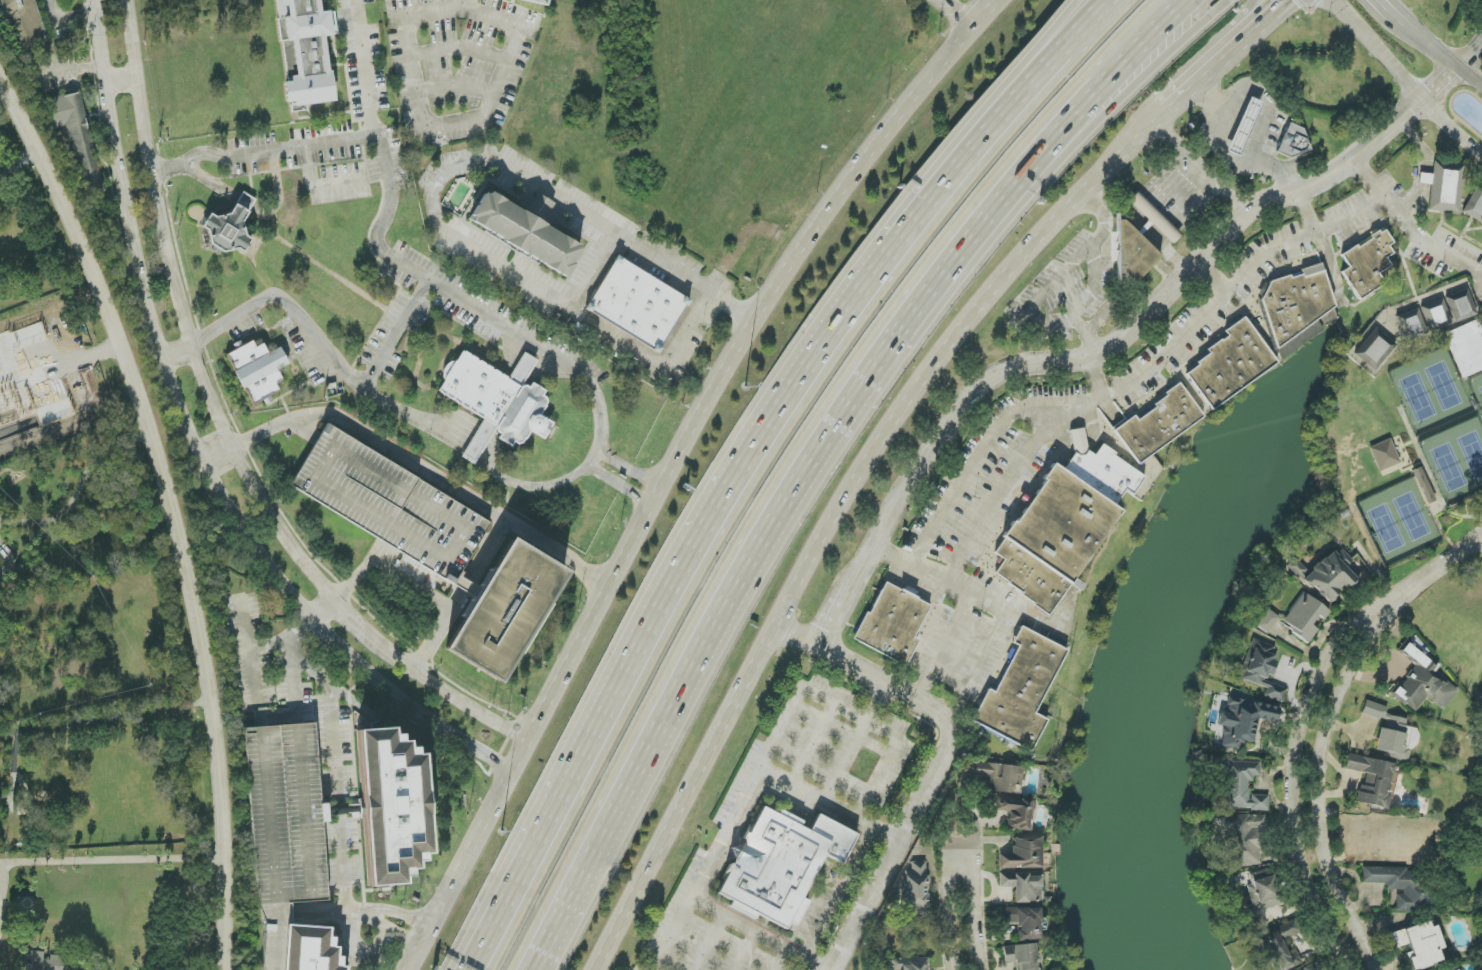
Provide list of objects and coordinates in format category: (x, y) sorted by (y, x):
building: (536, 1)
road: (1335, 2)
road: (465, 5)
road: (1383, 6)
road: (463, 11)
road: (1212, 11)
road: (961, 12)
road: (1253, 21)
road: (1268, 21)
building: (24, 23)
road: (63, 25)
road: (1436, 49)
building: (306, 50)
road: (459, 50)
road: (1471, 56)
road: (1034, 59)
road: (1041, 59)
road: (1121, 63)
road: (364, 70)
road: (122, 76)
road: (1133, 76)
road: (69, 78)
road: (1207, 79)
road: (1405, 84)
road: (1441, 86)
road: (456, 88)
road: (445, 125)
building: (1244, 126)
gas station: (1244, 126)
road: (1262, 129)
road: (1388, 131)
road: (1147, 135)
road: (1212, 135)
building: (1293, 142)
building: (75, 144)
road: (383, 148)
road: (204, 155)
road: (19, 165)
road: (168, 169)
road: (463, 169)
road: (1199, 169)
road: (1424, 169)
building: (1425, 179)
building: (1445, 186)
road: (317, 187)
building: (1474, 206)
road: (252, 211)
road: (1304, 214)
road: (1149, 218)
building: (231, 226)
road: (1408, 228)
building: (525, 234)
building: (1132, 255)
building: (1367, 264)
road: (596, 275)
road: (1211, 275)
road: (1060, 280)
road: (1094, 286)
building: (1296, 301)
road: (1215, 303)
building: (637, 304)
building: (1461, 305)
road: (288, 306)
building: (1435, 315)
road: (693, 323)
building: (1410, 324)
road: (1085, 335)
road: (396, 337)
building: (1467, 348)
building: (1373, 350)
road: (549, 352)
road: (178, 354)
road: (1044, 360)
building: (1230, 363)
building: (258, 371)
road: (1095, 375)
building: (497, 402)
building: (1158, 424)
road: (227, 434)
road: (1079, 437)
road: (375, 440)
road: (197, 447)
road: (749, 449)
road: (478, 453)
building: (1384, 455)
road: (677, 467)
road: (630, 471)
road: (972, 472)
building: (1424, 484)
road: (621, 487)
road: (79, 490)
road: (1000, 498)
building: (391, 505)
road: (171, 512)
building: (1063, 524)
road: (531, 534)
road: (780, 536)
road: (831, 539)
road: (1445, 565)
road: (388, 570)
building: (1327, 574)
road: (467, 587)
road: (992, 607)
building: (505, 610)
road: (328, 617)
building: (1304, 617)
building: (1267, 621)
building: (892, 623)
road: (1047, 631)
road: (437, 633)
road: (942, 648)
park: (1460, 650)
road: (250, 666)
building: (1261, 669)
building: (1422, 682)
building: (1021, 691)
road: (82, 721)
building: (1243, 721)
building: (1389, 732)
road: (775, 741)
road: (853, 742)
road: (812, 745)
road: (941, 763)
road: (1296, 765)
road: (1321, 776)
building: (998, 777)
building: (1373, 780)
building: (1243, 787)
road: (340, 796)
road: (831, 805)
building: (392, 806)
building: (1016, 812)
building: (286, 814)
building: (1407, 837)
building: (1243, 840)
building: (1023, 854)
road: (109, 860)
building: (781, 864)
building: (1399, 884)
road: (503, 887)
road: (511, 887)
building: (1023, 887)
building: (915, 890)
road: (839, 893)
building: (1261, 900)
road: (977, 902)
road: (949, 915)
building: (1023, 922)
road: (394, 931)
road: (758, 935)
road: (708, 943)
building: (1419, 944)
building: (1280, 947)
building: (309, 949)
park: (1480, 949)
road: (744, 951)
building: (1022, 956)
road: (784, 960)
building: (44, 962)
building: (911, 964)
building: (1310, 967)
building: (1456, 969)

